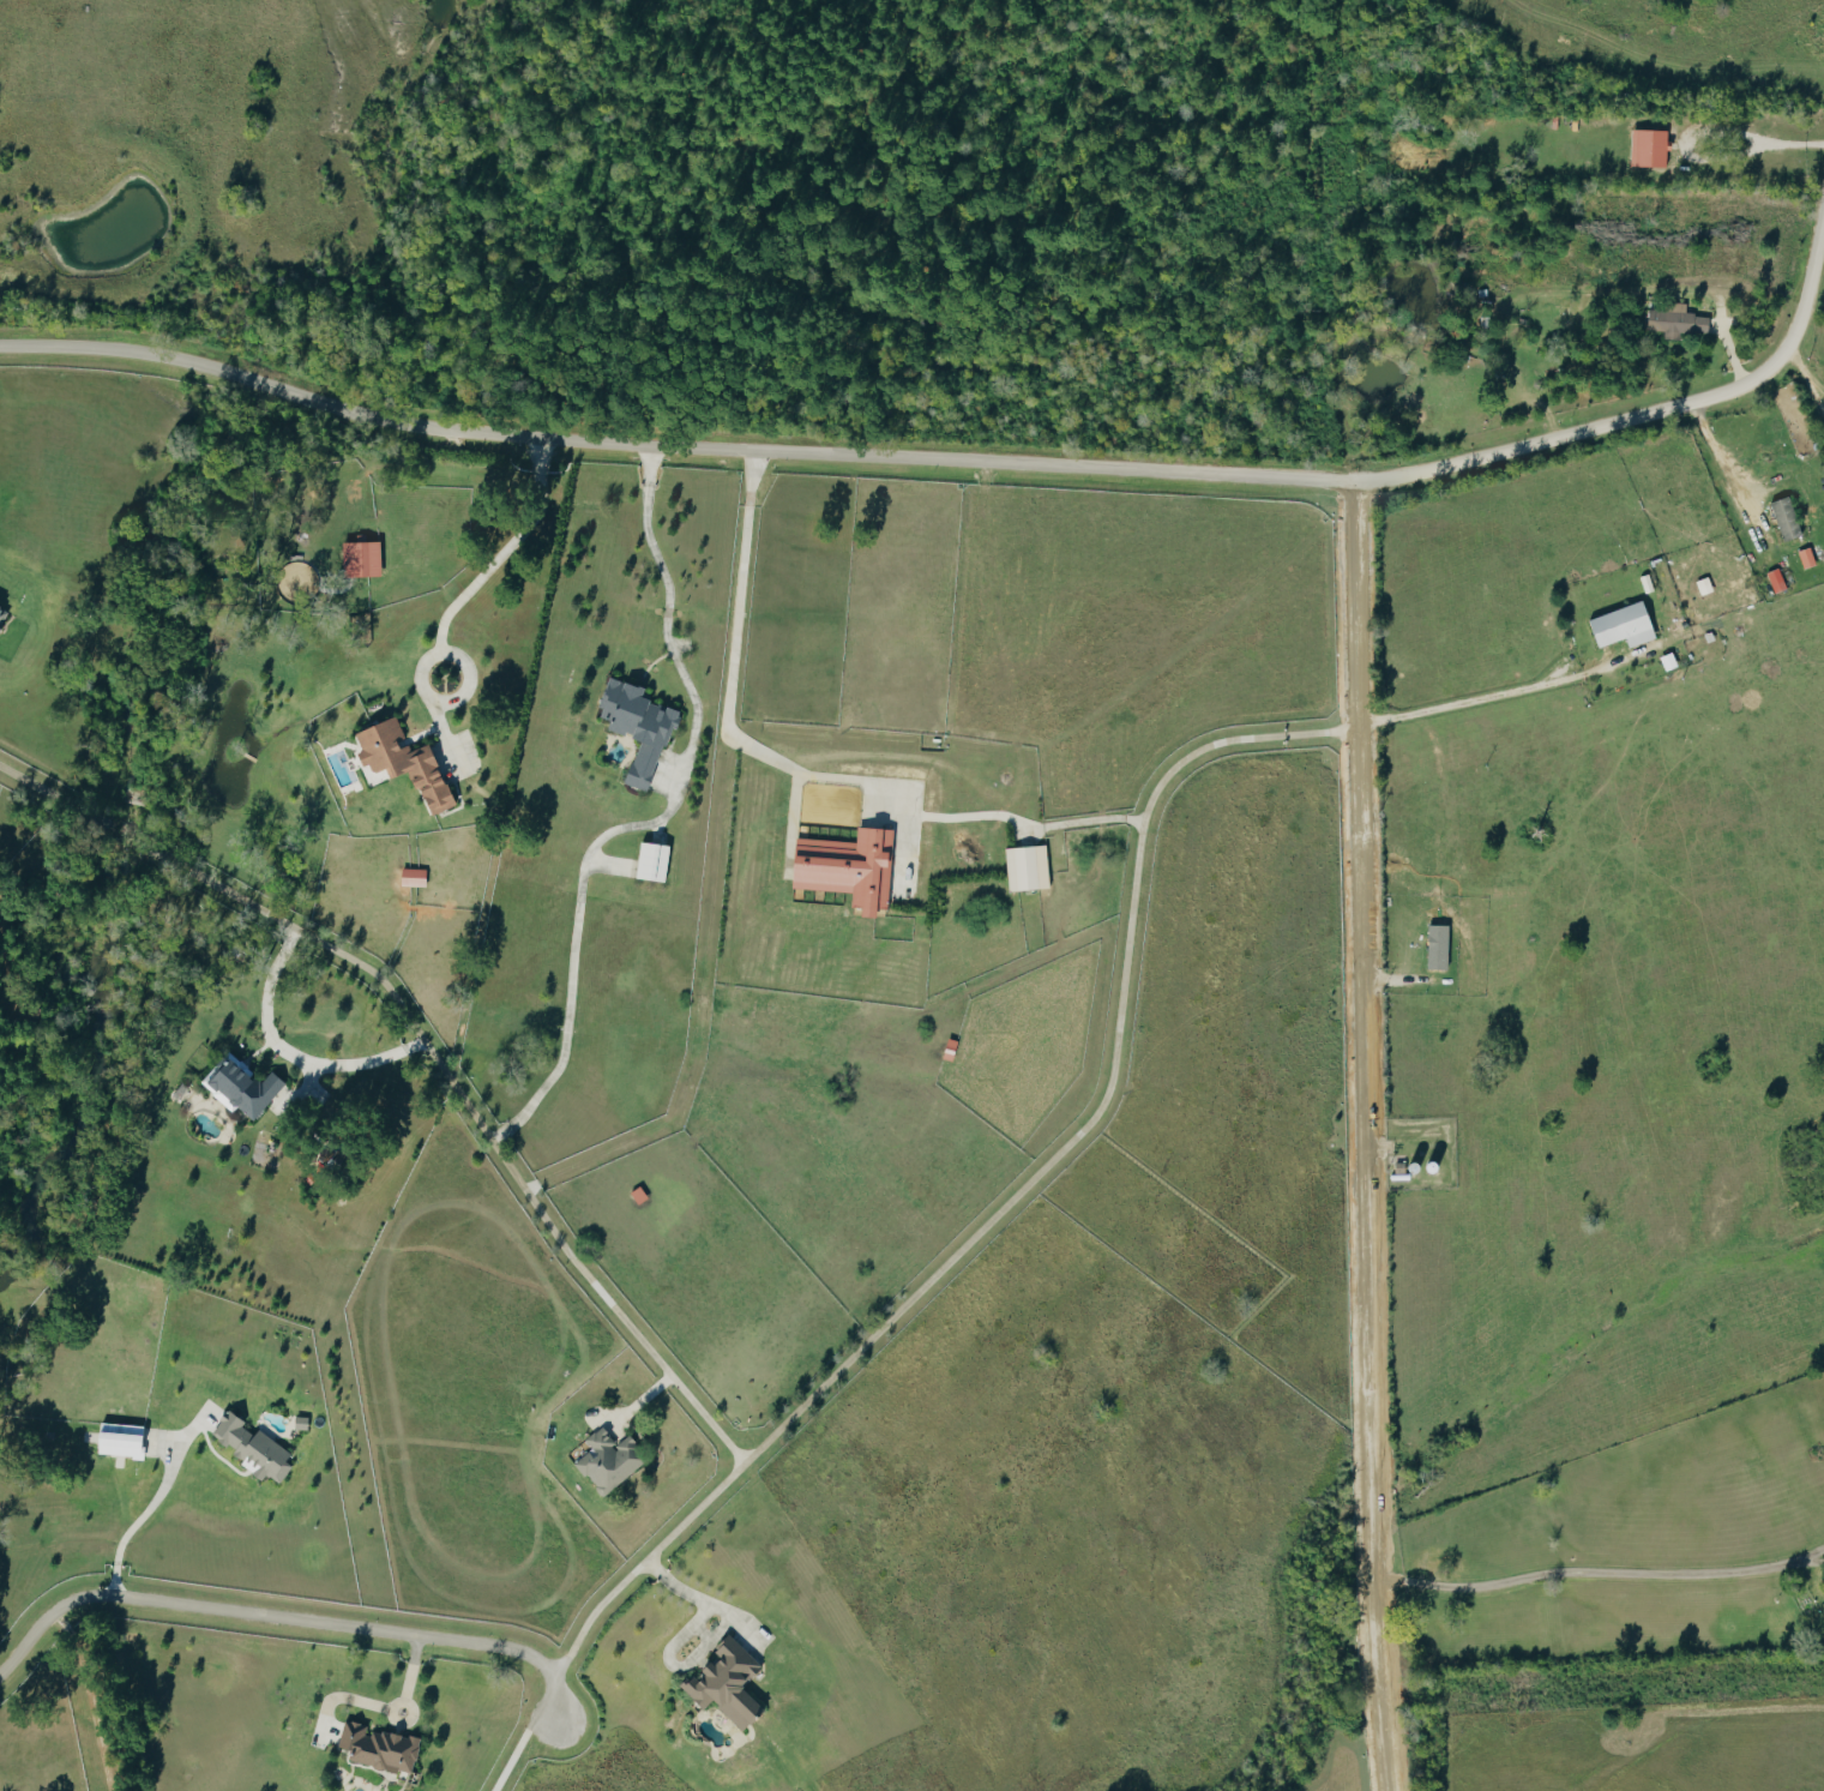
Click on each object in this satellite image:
road: (1792, 142)
road: (1692, 144)
building: (1651, 148)
building: (1679, 320)
road: (1807, 368)
road: (983, 465)
road: (1722, 468)
building: (1789, 517)
building: (1810, 557)
building: (363, 558)
building: (1778, 579)
building: (4, 615)
road: (457, 618)
building: (1626, 625)
road: (1494, 695)
building: (640, 727)
building: (408, 762)
road: (801, 771)
road: (654, 822)
building: (655, 860)
building: (850, 866)
building: (1029, 867)
building: (416, 877)
road: (496, 888)
road: (428, 1047)
road: (295, 1058)
building: (247, 1086)
road: (1366, 1137)
road: (1012, 1196)
building: (124, 1440)
building: (254, 1448)
building: (612, 1460)
road: (152, 1503)
road: (1596, 1577)
road: (287, 1616)
road: (706, 1639)
building: (730, 1684)
road: (524, 1737)
building: (380, 1748)

